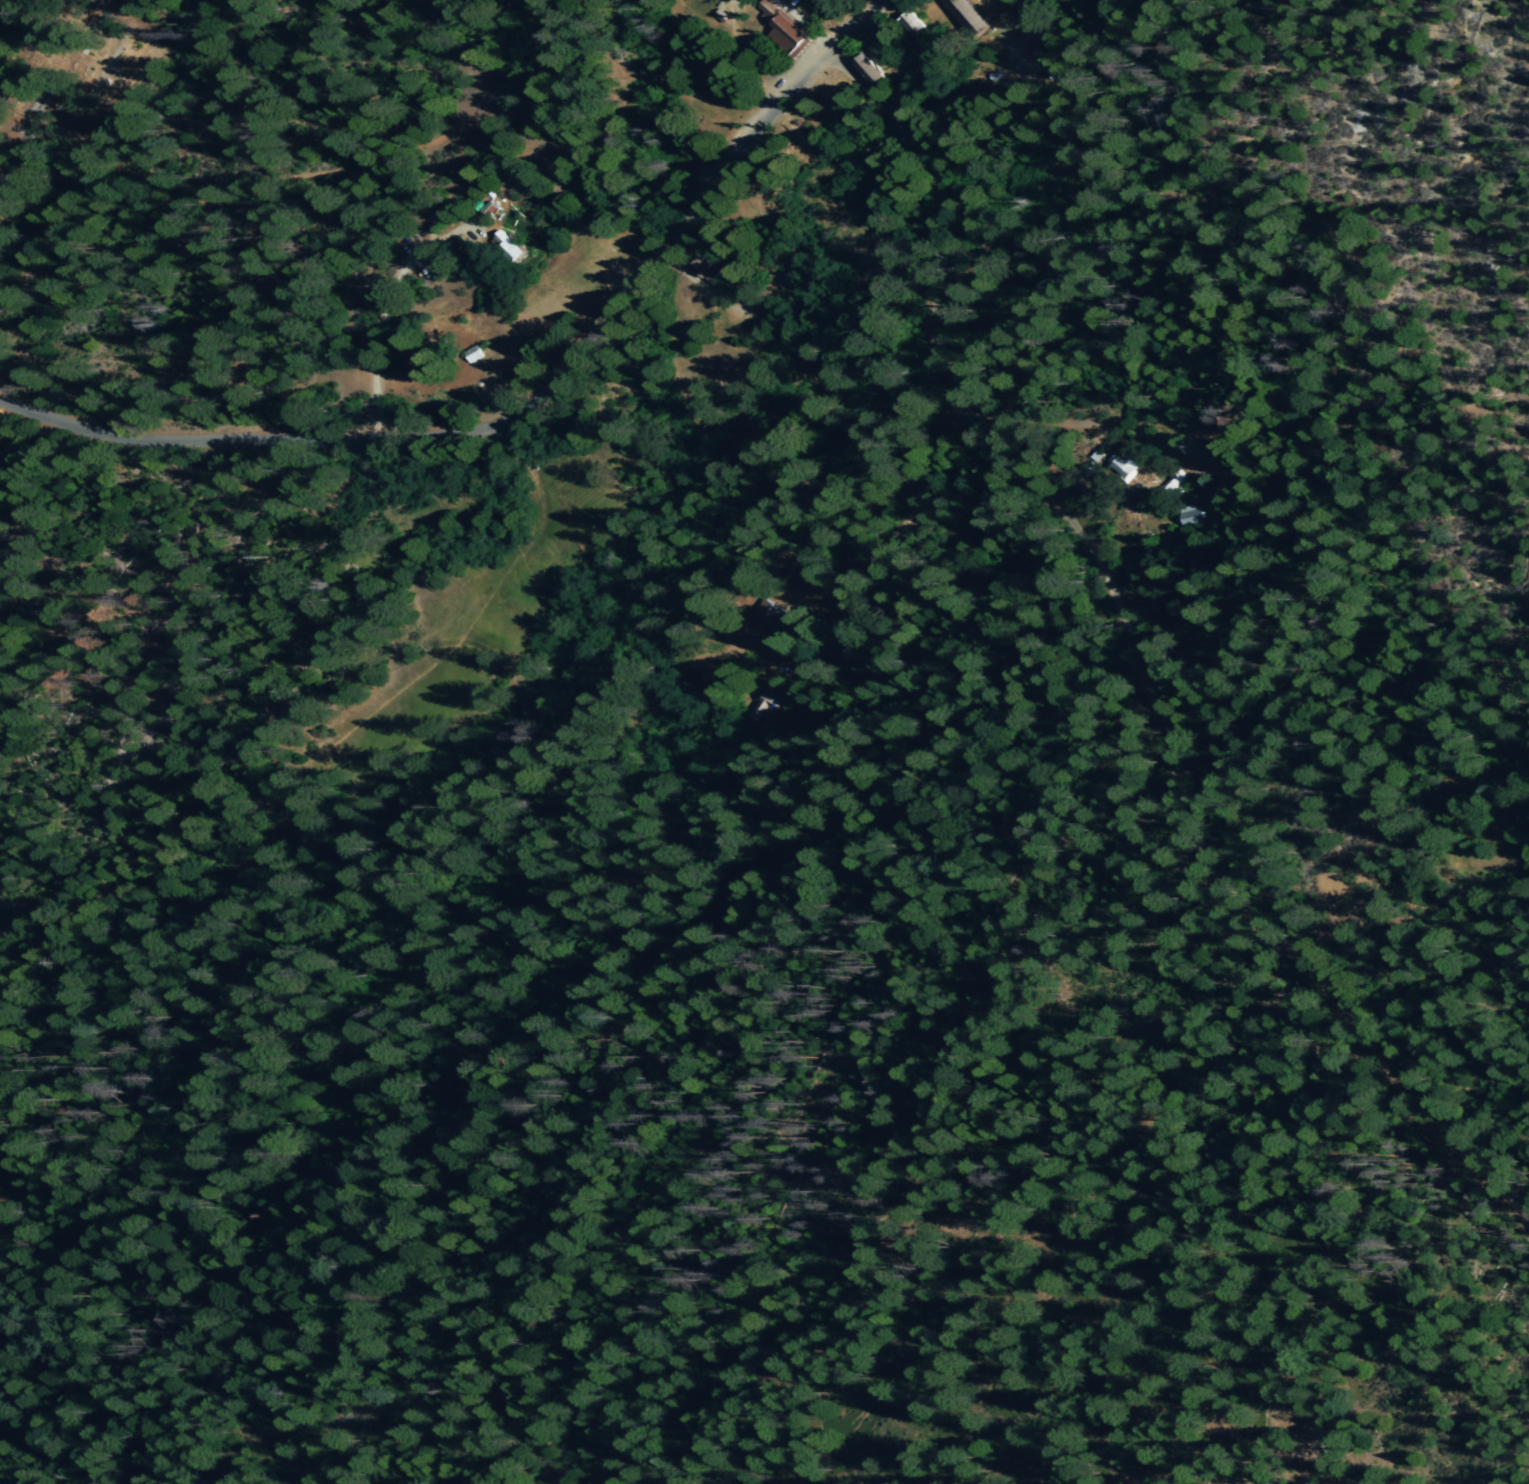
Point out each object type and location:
road: (0, 0)
building: (965, 15)
road: (803, 25)
building: (779, 28)
building: (864, 68)
park: (373, 203)
building: (503, 246)
building: (700, 267)
park: (1244, 312)
building: (469, 353)
road: (962, 388)
road: (526, 402)
building: (1118, 465)
building: (1189, 515)
park: (517, 590)
building: (766, 612)
building: (762, 704)
road: (1326, 980)
park: (4, 1139)
park: (1507, 1149)
park: (755, 1427)

